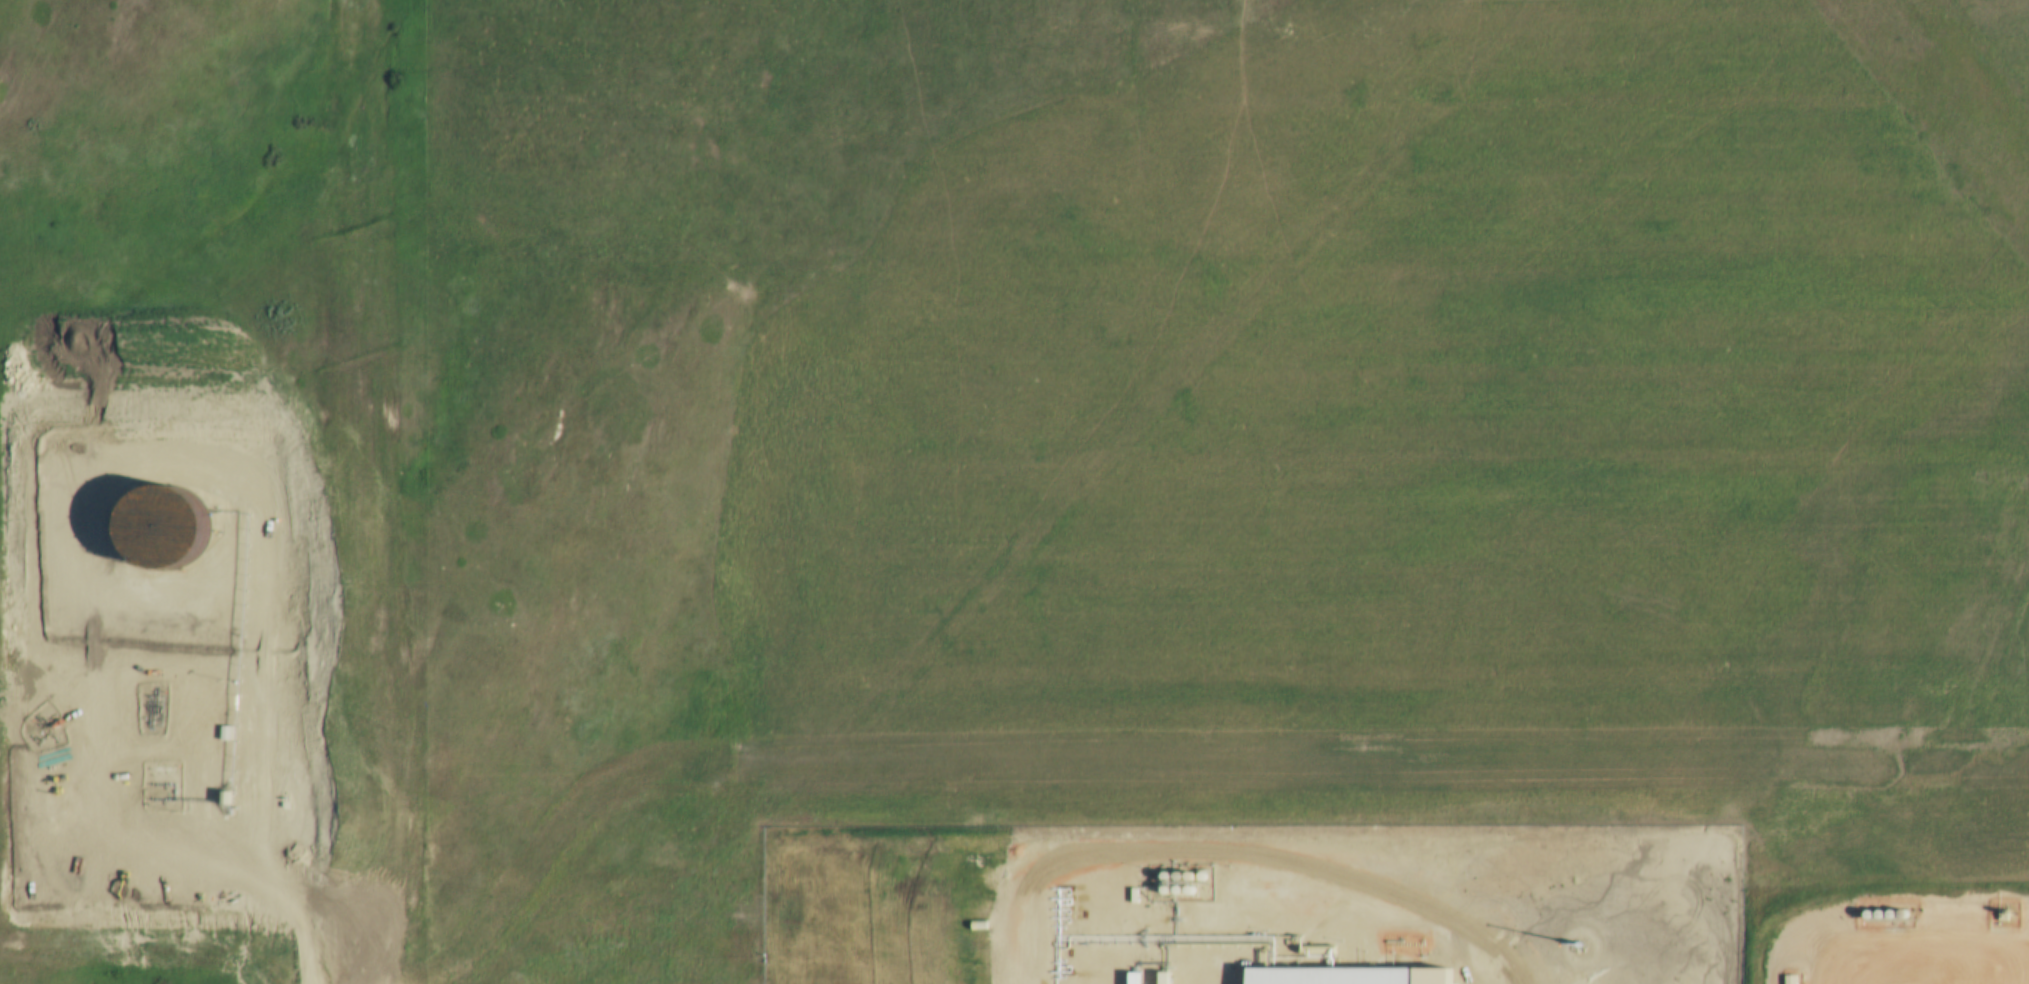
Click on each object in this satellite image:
building: (1789, 979)

